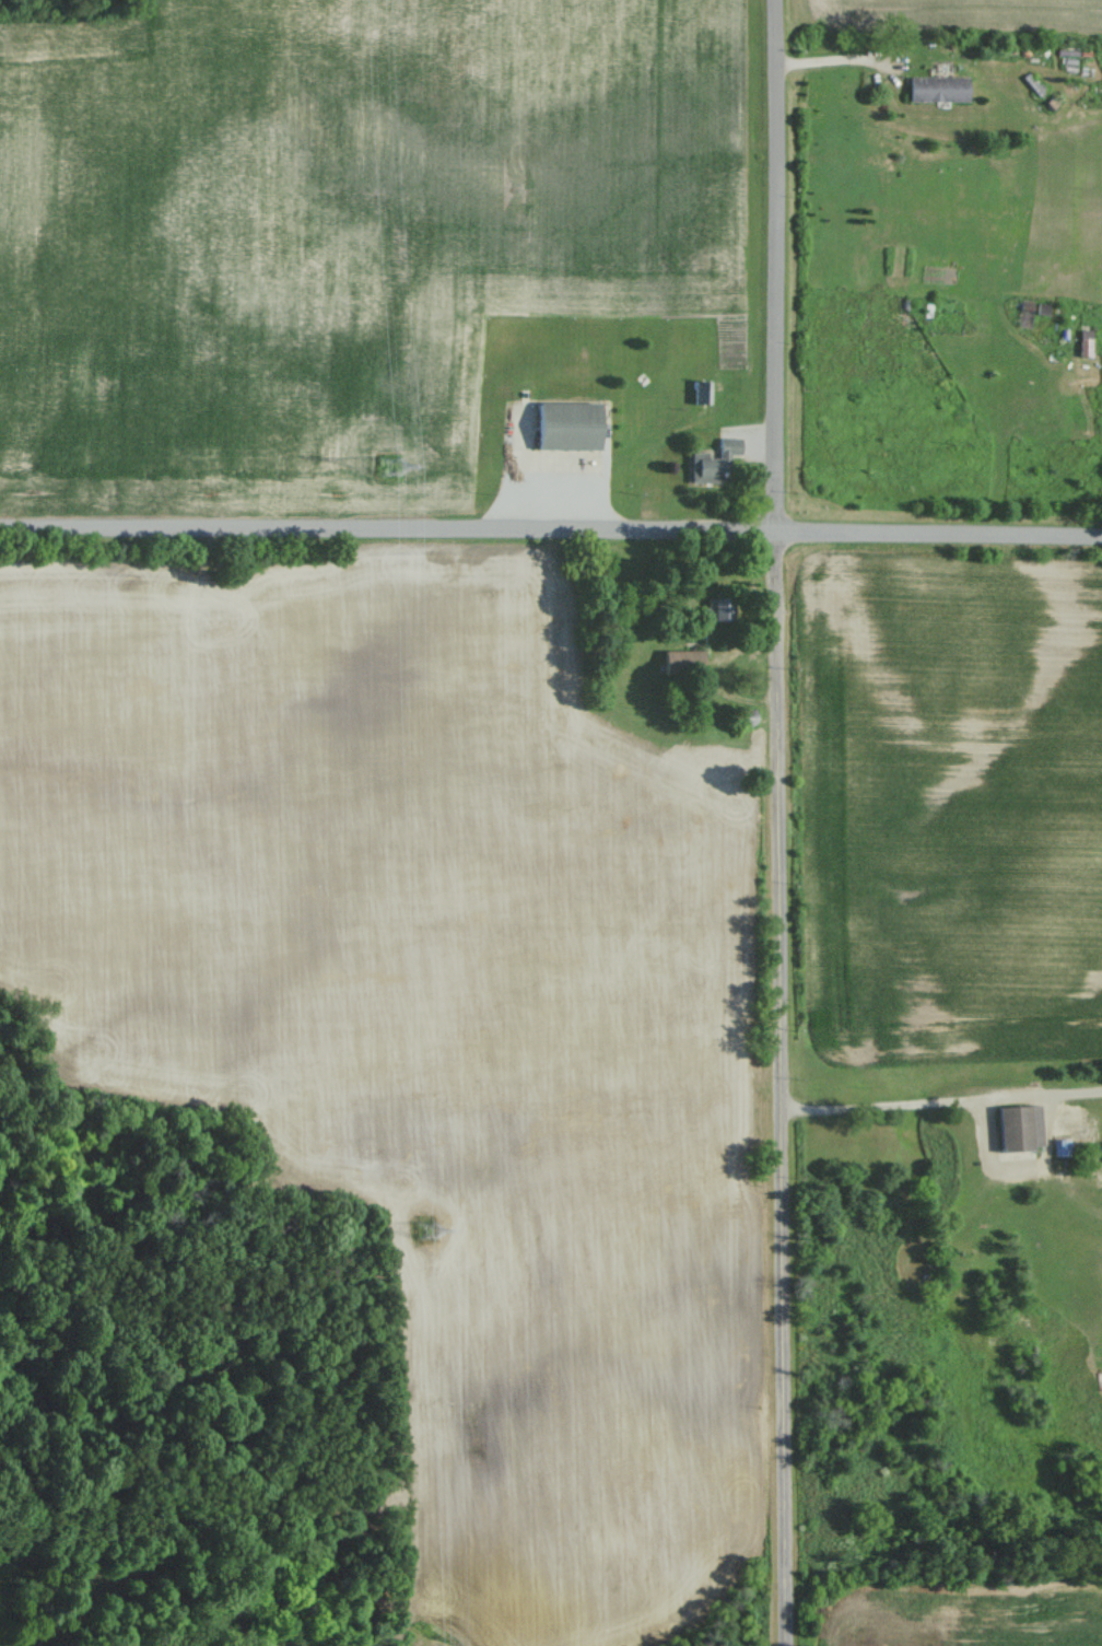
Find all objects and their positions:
road: (835, 61)
building: (938, 89)
building: (702, 392)
building: (570, 424)
building: (715, 460)
power tower: (388, 463)
road: (551, 532)
building: (719, 607)
building: (673, 662)
building: (746, 716)
road: (784, 822)
road: (945, 1102)
building: (1020, 1126)
building: (1060, 1145)
power tower: (424, 1228)

